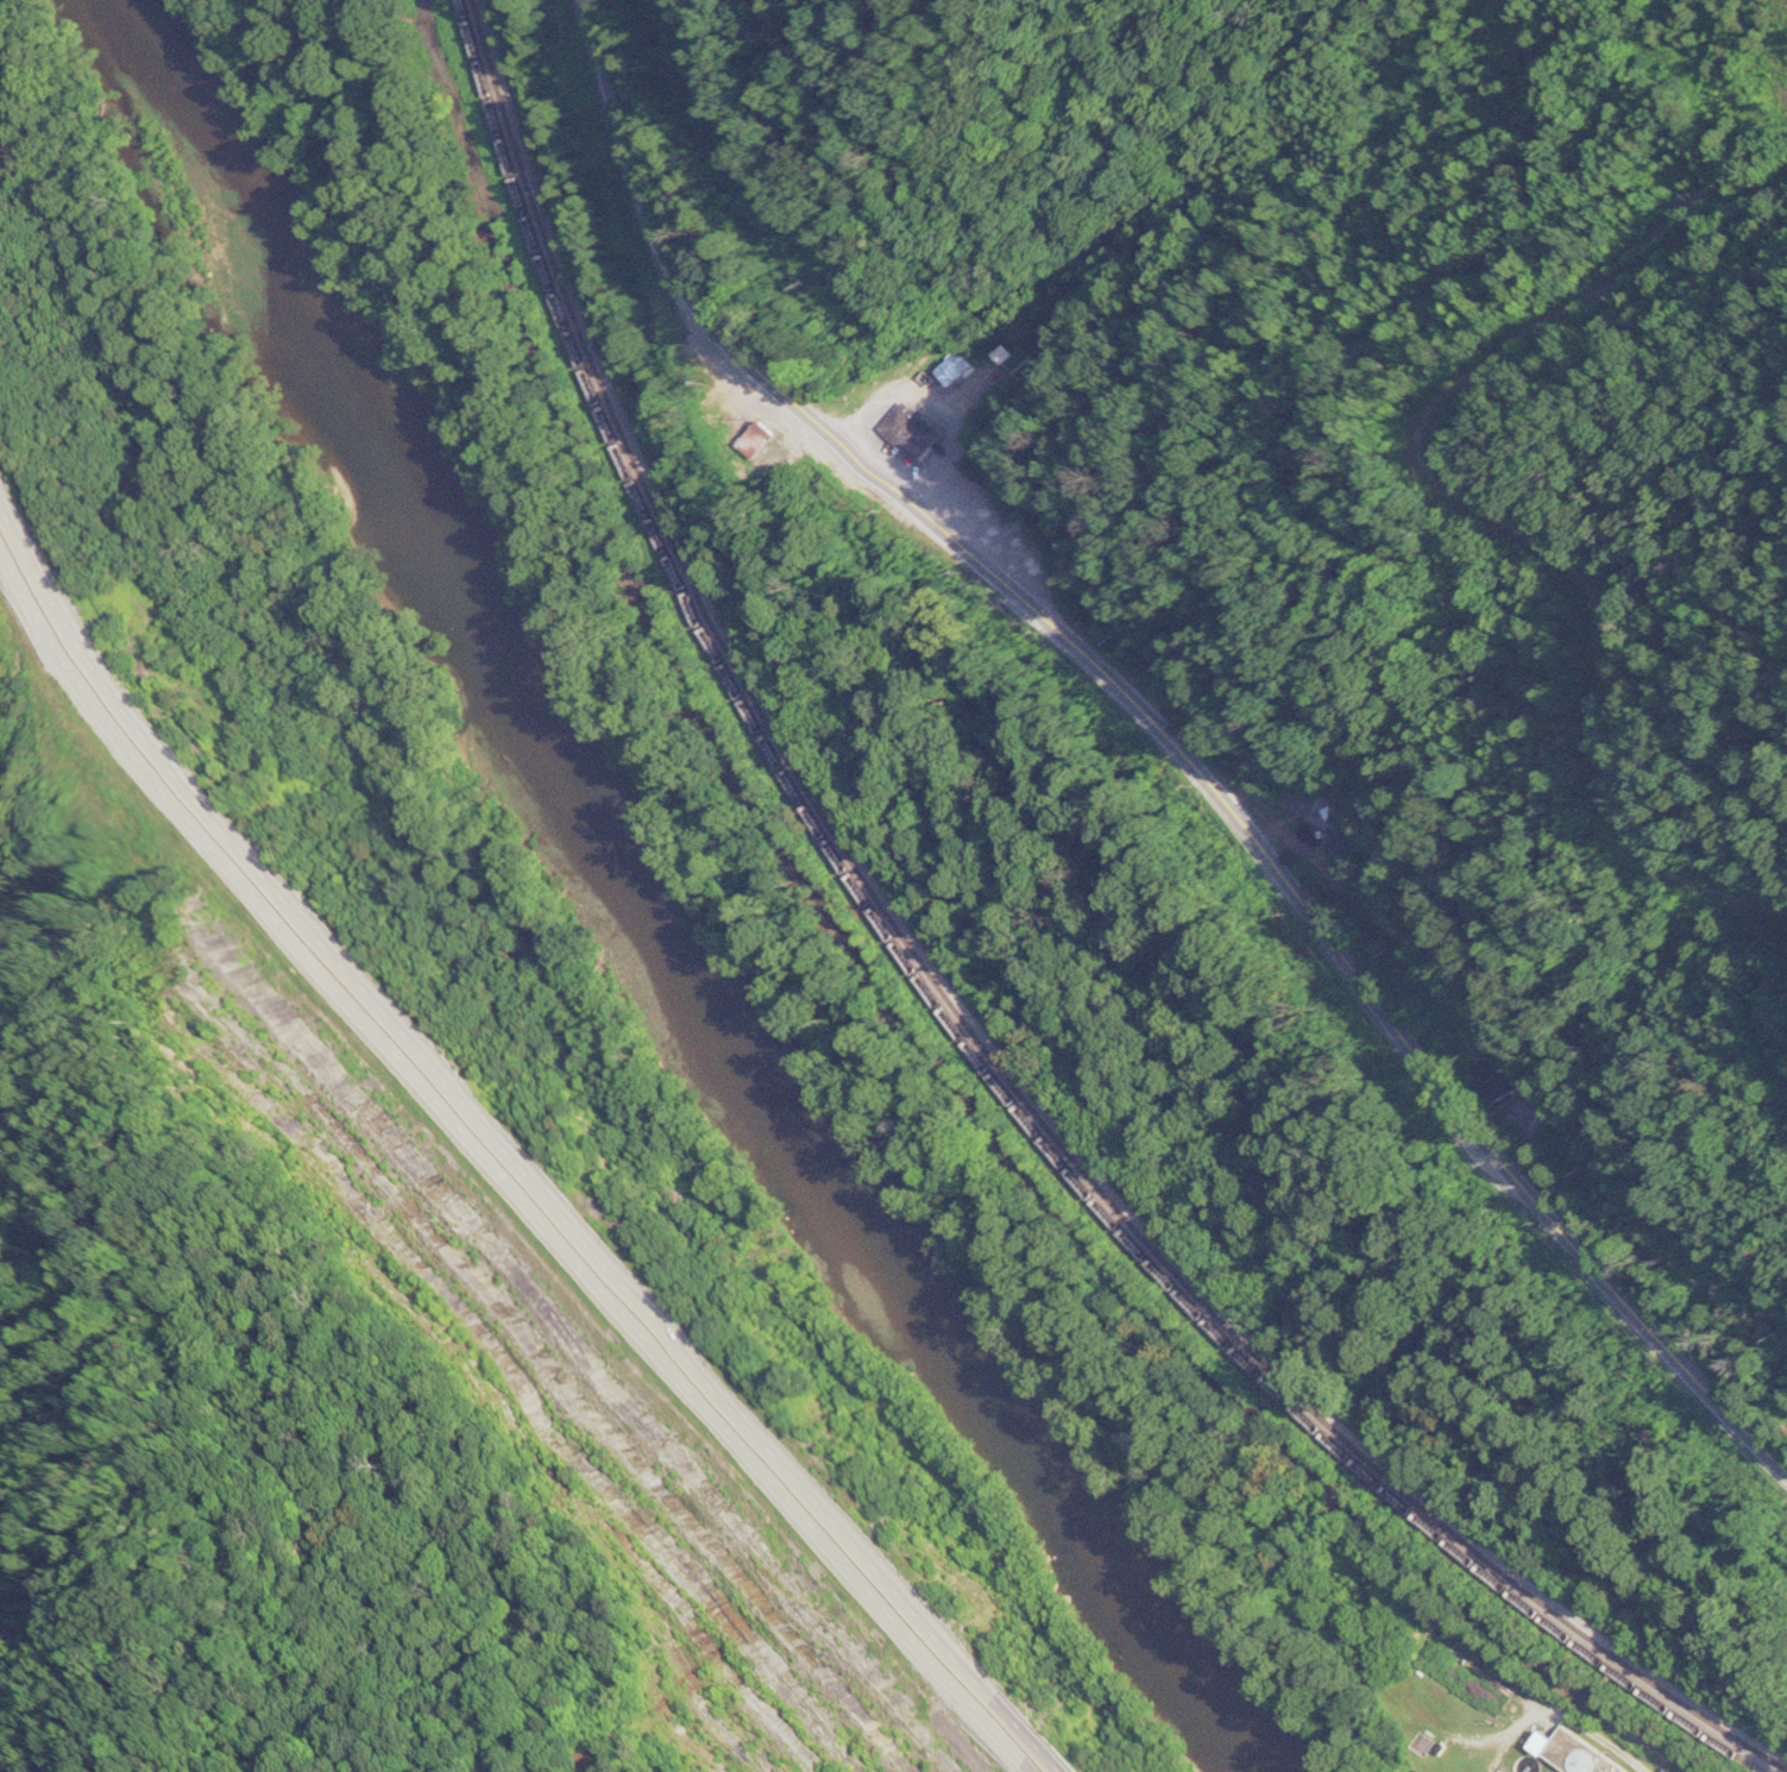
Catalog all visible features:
building: (951, 371)
building: (914, 429)
building: (754, 438)
road: (1168, 734)
building: (1335, 811)
building: (1347, 842)
river: (642, 909)
railway: (962, 1011)
building: (1498, 1079)
road: (509, 1150)
road: (493, 1175)
building: (1577, 1754)

